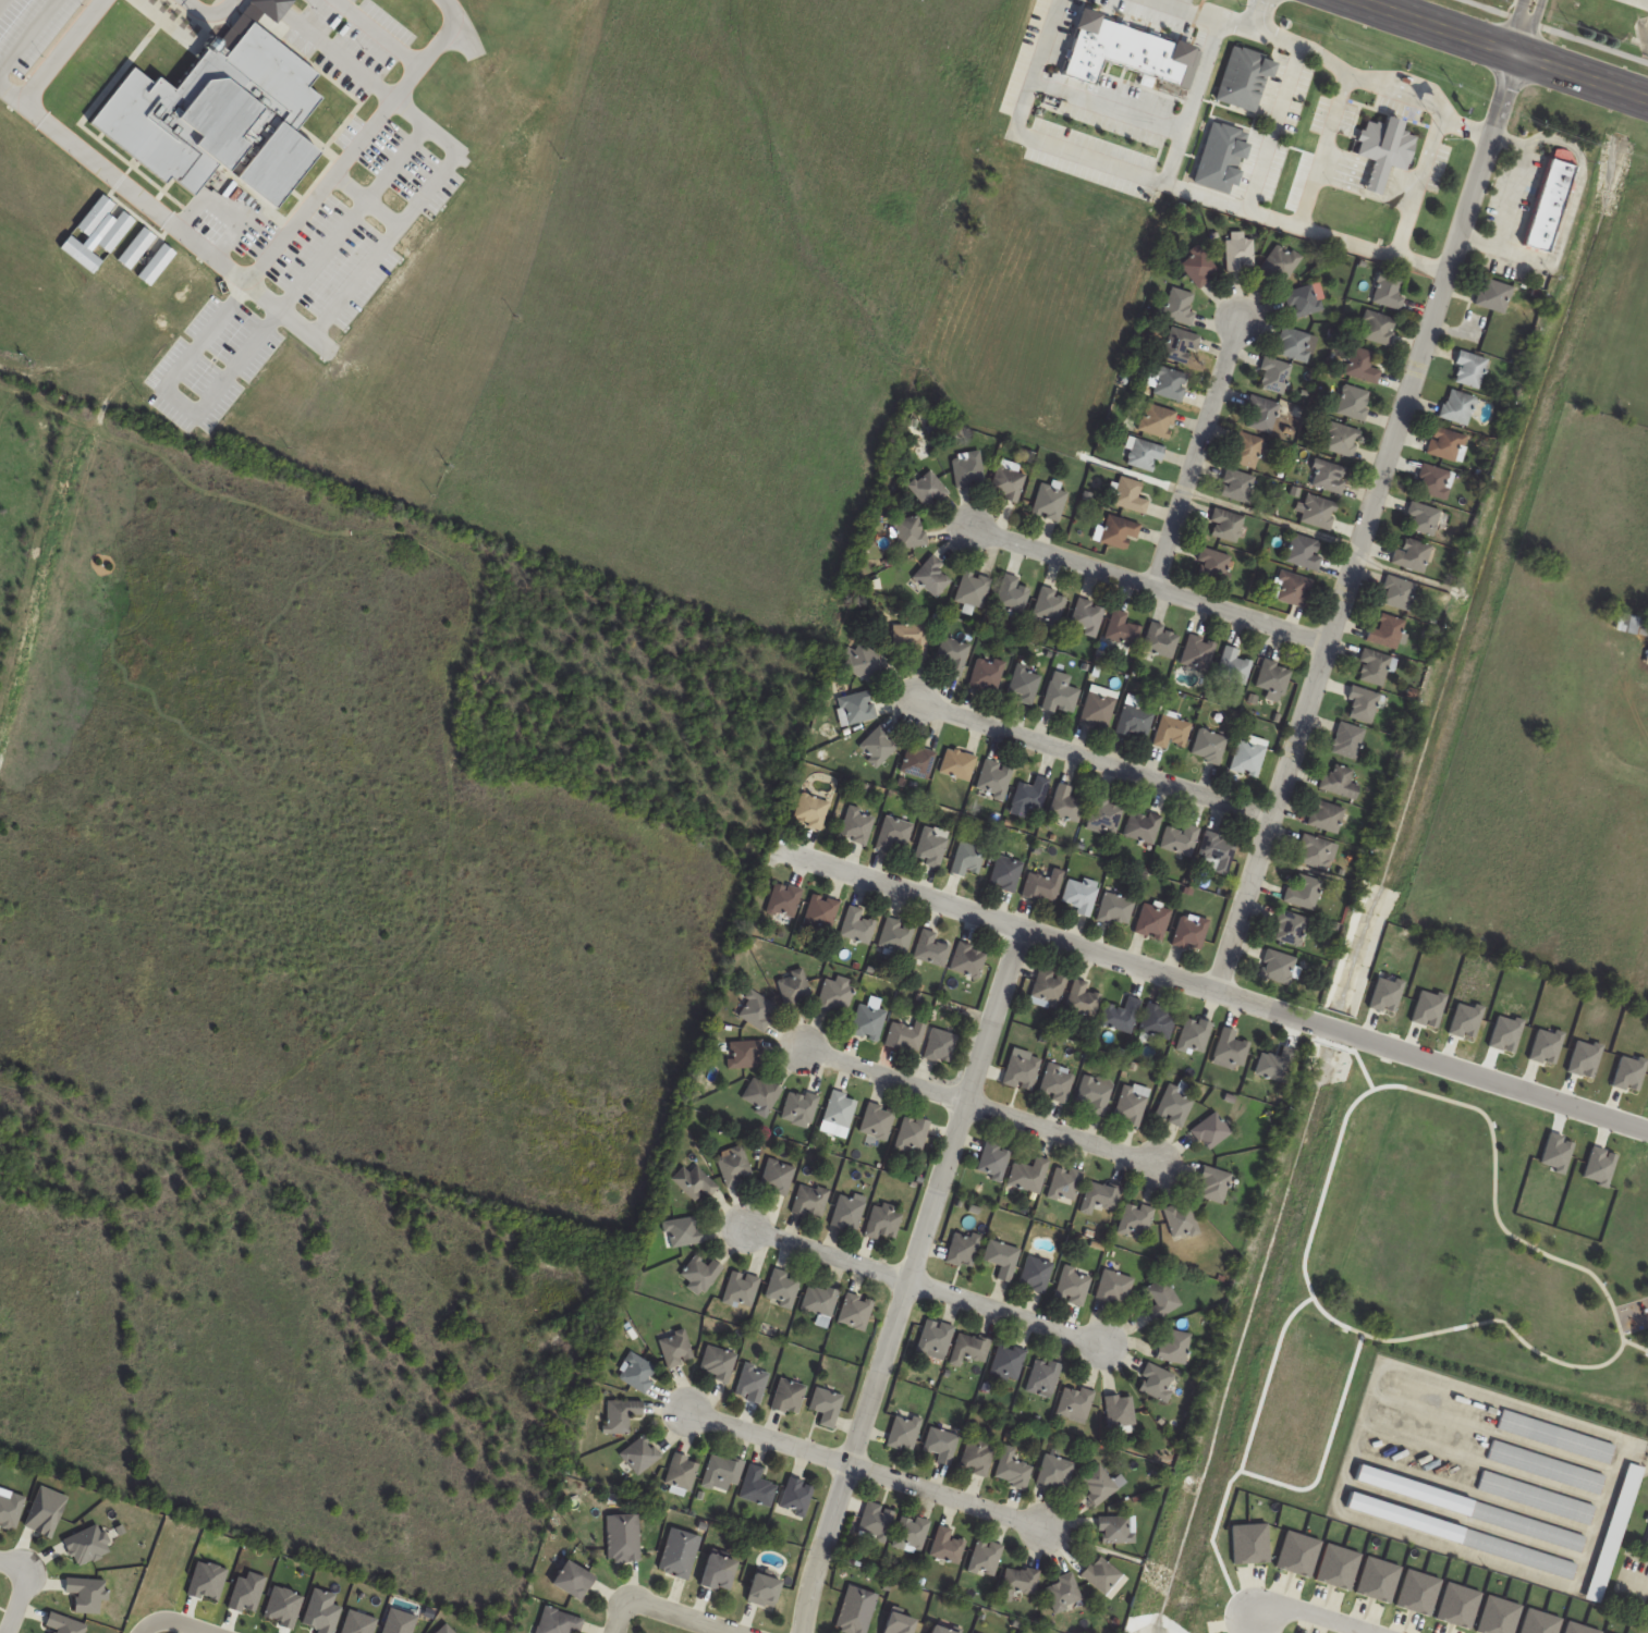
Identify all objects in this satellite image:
road: (1647, 0)
road: (273, 7)
road: (207, 10)
road: (1203, 15)
road: (1531, 24)
road: (1558, 29)
road: (23, 32)
road: (376, 34)
road: (1512, 45)
building: (1143, 70)
building: (1244, 78)
road: (1358, 78)
road: (13, 94)
road: (1104, 106)
road: (356, 144)
road: (1320, 150)
building: (1384, 150)
road: (1106, 165)
road: (1417, 183)
road: (1512, 198)
road: (365, 199)
building: (1548, 205)
road: (350, 217)
road: (1305, 230)
building: (1241, 254)
building: (1282, 262)
building: (1199, 267)
building: (1389, 292)
building: (1493, 296)
building: (1306, 300)
building: (1181, 308)
road: (290, 320)
building: (1378, 329)
building: (1296, 345)
building: (1181, 346)
building: (1363, 366)
building: (1469, 370)
building: (1274, 376)
building: (1170, 383)
road: (178, 400)
building: (1354, 403)
building: (1457, 407)
building: (1262, 414)
building: (1157, 421)
building: (1342, 440)
building: (1446, 445)
road: (1195, 451)
building: (1246, 451)
building: (1143, 454)
building: (968, 469)
building: (1329, 477)
building: (1435, 482)
building: (1008, 484)
building: (1237, 487)
building: (929, 488)
building: (1130, 496)
building: (1050, 503)
building: (1319, 513)
road: (1364, 518)
building: (1423, 519)
building: (1225, 525)
building: (911, 532)
building: (1119, 532)
building: (1304, 552)
building: (1412, 555)
building: (1214, 565)
building: (932, 577)
road: (1148, 588)
building: (974, 589)
building: (1292, 589)
building: (1399, 593)
building: (1013, 596)
building: (1050, 607)
building: (1087, 617)
building: (1633, 625)
building: (1123, 629)
building: (1387, 633)
building: (912, 639)
building: (1161, 640)
building: (1198, 652)
building: (954, 655)
building: (1647, 661)
building: (865, 663)
building: (1234, 666)
building: (1374, 667)
building: (987, 674)
building: (1274, 677)
building: (1025, 685)
building: (1061, 695)
building: (1363, 704)
building: (858, 708)
building: (1098, 710)
building: (1172, 732)
building: (1348, 740)
building: (878, 747)
building: (1210, 747)
building: (1249, 756)
road: (1098, 758)
building: (918, 761)
building: (957, 764)
building: (994, 779)
building: (1341, 782)
building: (1031, 794)
building: (1066, 803)
building: (810, 812)
building: (1104, 815)
building: (1328, 816)
building: (856, 825)
building: (1143, 827)
building: (893, 834)
building: (1181, 840)
building: (931, 846)
building: (1217, 852)
building: (1317, 852)
building: (967, 860)
building: (1005, 874)
building: (1043, 886)
building: (1304, 893)
building: (1081, 895)
building: (783, 900)
building: (1115, 908)
building: (820, 912)
building: (1153, 921)
building: (856, 926)
building: (1291, 928)
building: (1191, 933)
building: (895, 937)
building: (930, 949)
building: (968, 960)
building: (1278, 967)
building: (794, 987)
building: (1048, 989)
road: (1210, 991)
building: (835, 995)
building: (1083, 999)
building: (757, 1010)
building: (1121, 1017)
building: (1159, 1021)
building: (868, 1022)
building: (906, 1035)
building: (1196, 1035)
building: (940, 1045)
building: (1231, 1051)
road: (1354, 1052)
building: (745, 1054)
building: (1277, 1066)
building: (1022, 1070)
building: (1057, 1083)
building: (761, 1094)
building: (1095, 1094)
building: (1132, 1105)
building: (1175, 1106)
building: (799, 1108)
building: (840, 1109)
road: (985, 1110)
building: (877, 1121)
building: (1211, 1131)
building: (913, 1134)
building: (993, 1161)
road: (1332, 1161)
building: (735, 1166)
building: (1029, 1176)
building: (778, 1177)
building: (695, 1182)
building: (1065, 1184)
building: (1213, 1184)
building: (1100, 1196)
building: (811, 1201)
building: (849, 1212)
park: (1462, 1217)
building: (1136, 1219)
building: (1182, 1220)
building: (884, 1223)
building: (682, 1232)
building: (964, 1250)
building: (1002, 1260)
building: (700, 1274)
building: (1036, 1275)
road: (910, 1280)
building: (1074, 1285)
road: (925, 1286)
building: (1115, 1288)
building: (741, 1289)
building: (782, 1289)
building: (1162, 1300)
building: (819, 1301)
building: (855, 1312)
building: (935, 1338)
road: (1635, 1346)
building: (676, 1347)
building: (1174, 1347)
building: (971, 1348)
building: (1008, 1361)
building: (718, 1363)
building: (637, 1373)
building: (1043, 1377)
building: (1157, 1383)
building: (753, 1384)
building: (788, 1397)
building: (1075, 1402)
building: (826, 1407)
building: (1121, 1411)
building: (623, 1414)
building: (904, 1433)
building: (1557, 1437)
road: (1247, 1441)
building: (941, 1445)
road: (1327, 1446)
building: (642, 1454)
building: (977, 1457)
building: (1547, 1468)
road: (870, 1470)
building: (1013, 1470)
building: (683, 1472)
building: (1055, 1472)
building: (723, 1474)
building: (1100, 1484)
building: (758, 1487)
building: (796, 1498)
building: (1537, 1498)
building: (876, 1522)
building: (1527, 1527)
building: (1116, 1530)
building: (1614, 1533)
building: (912, 1534)
building: (624, 1537)
building: (1647, 1543)
building: (948, 1546)
building: (680, 1554)
building: (1518, 1555)
building: (986, 1558)
building: (717, 1572)
building: (1101, 1574)
building: (572, 1581)
building: (1020, 1583)
road: (25, 1586)
building: (762, 1591)
building: (1064, 1592)
building: (1160, 1606)
building: (856, 1611)
road: (1306, 1614)
road: (621, 1616)
road: (680, 1616)
road: (182, 1622)
building: (558, 1622)
building: (898, 1624)
road: (146, 1628)
building: (938, 1630)

